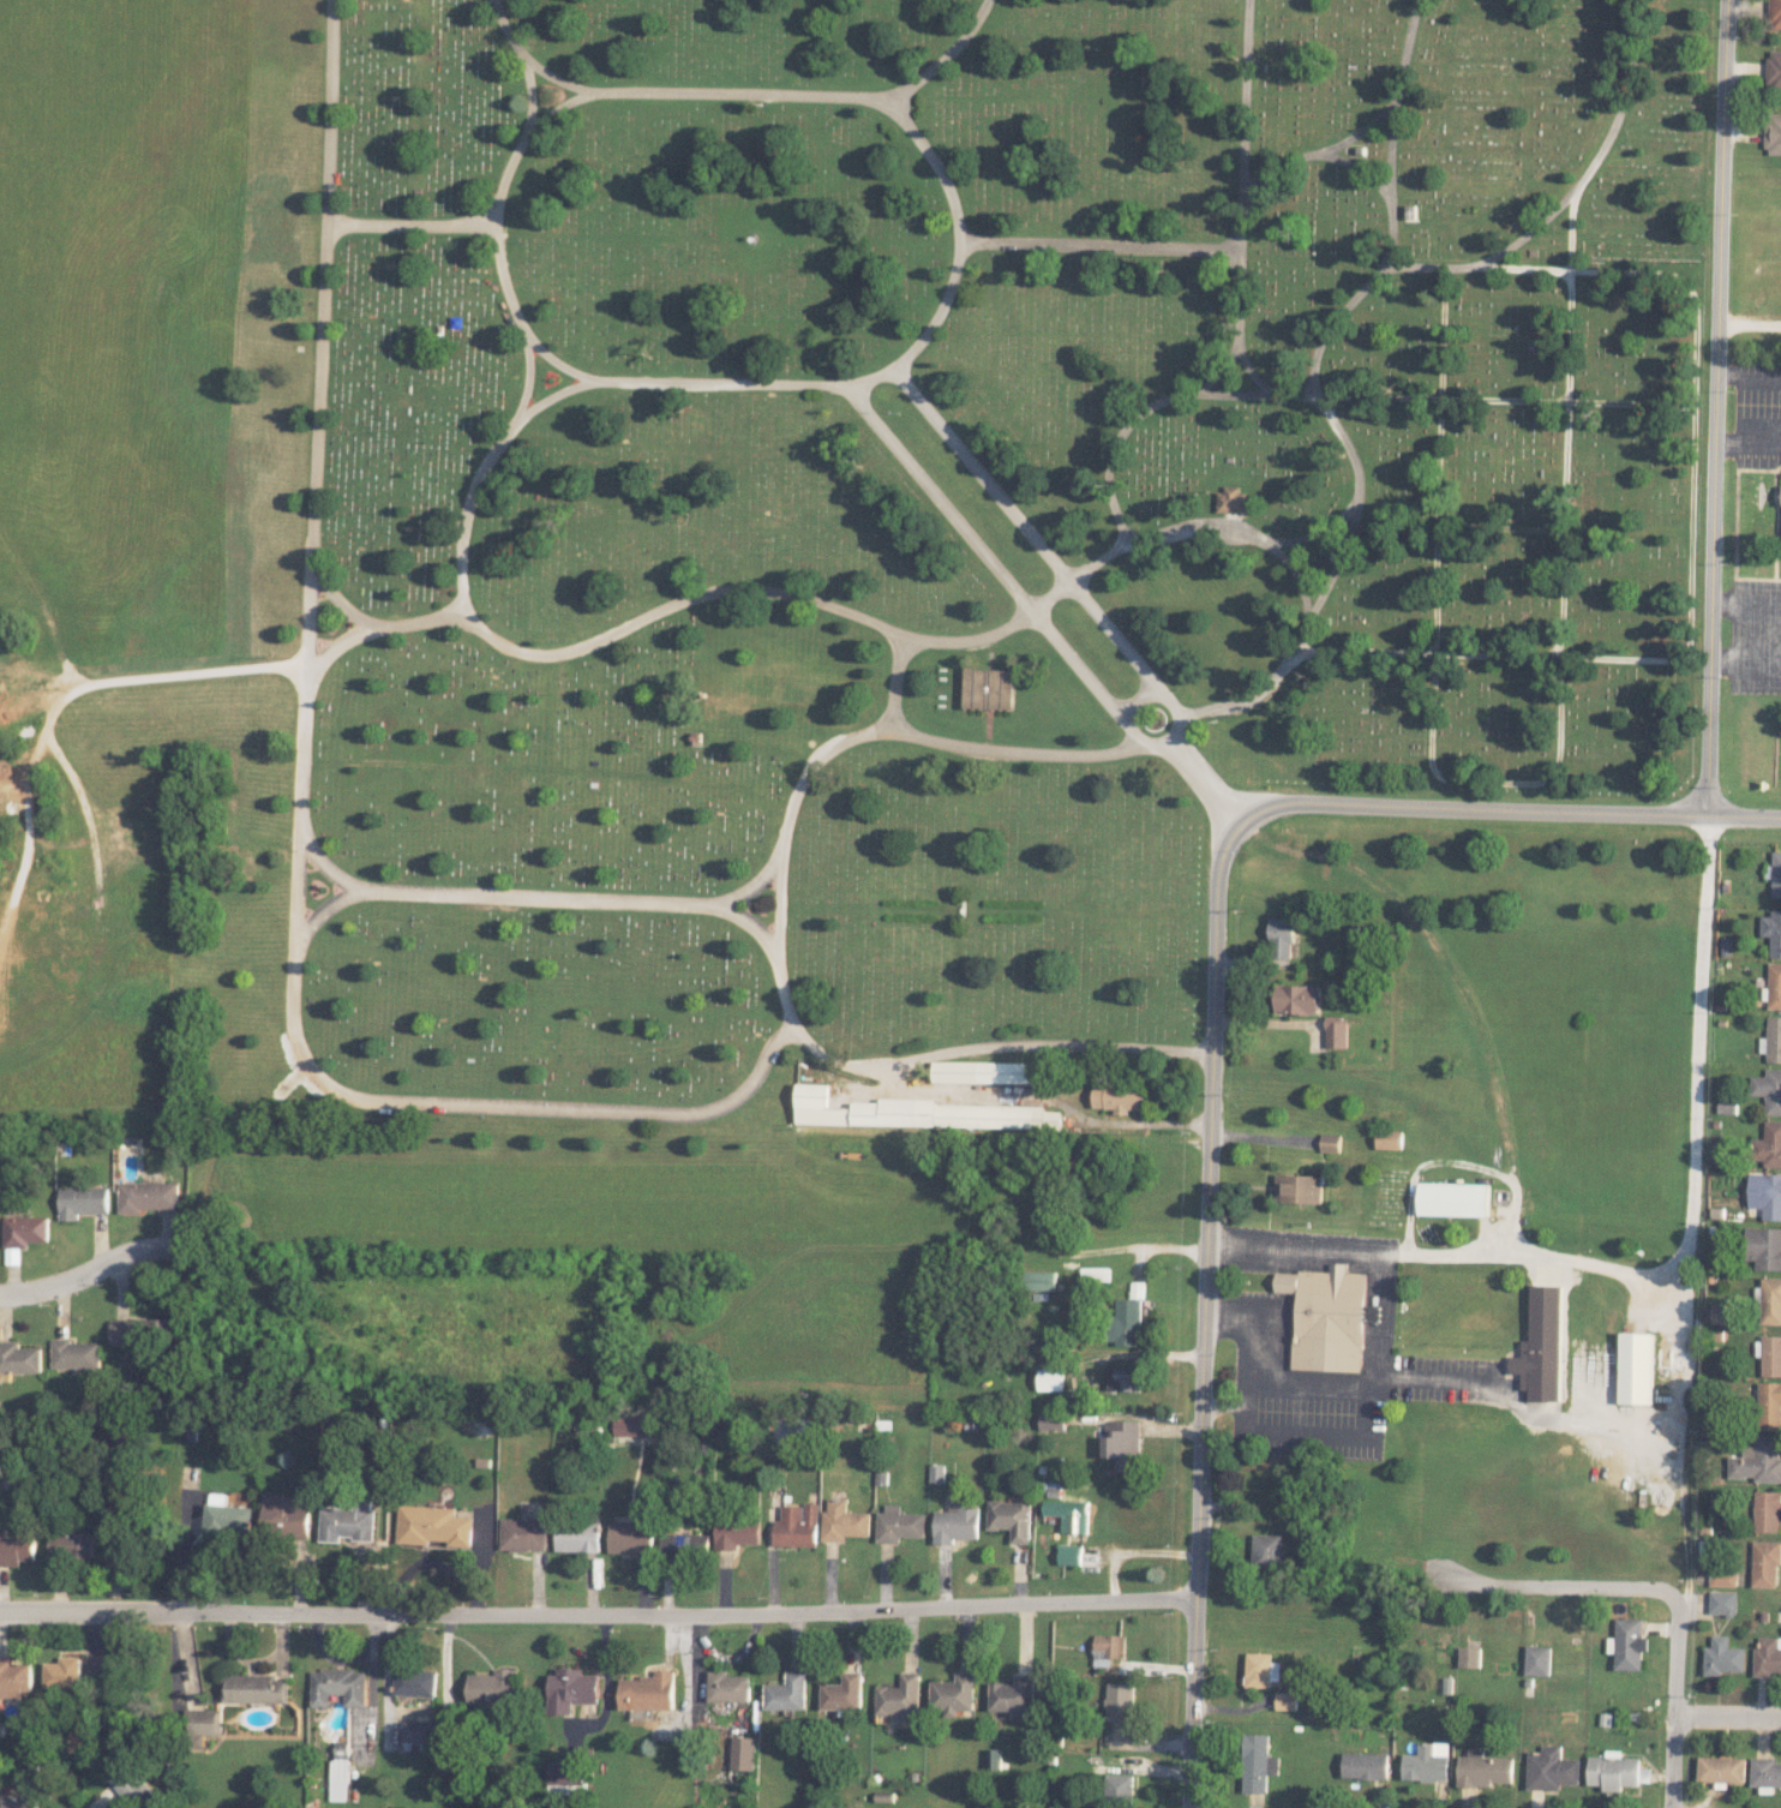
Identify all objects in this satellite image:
building: (1775, 13)
road: (532, 60)
building: (1774, 71)
road: (530, 94)
road: (559, 108)
road: (1393, 131)
building: (1773, 133)
road: (1318, 150)
road: (1361, 169)
road: (941, 172)
road: (409, 223)
road: (1527, 234)
road: (1099, 246)
road: (1341, 317)
road: (320, 331)
road: (871, 377)
road: (526, 378)
road: (1569, 383)
road: (1233, 395)
road: (1716, 406)
road: (1134, 420)
road: (1695, 433)
road: (1440, 459)
building: (1230, 499)
park: (903, 528)
road: (1535, 528)
road: (1317, 531)
road: (1081, 573)
road: (342, 603)
road: (674, 604)
road: (160, 676)
building: (989, 688)
road: (1137, 698)
road: (844, 742)
road: (1165, 742)
road: (1205, 782)
road: (1507, 807)
road: (325, 863)
building: (1775, 874)
road: (754, 882)
road: (534, 897)
building: (1771, 930)
building: (1282, 936)
road: (295, 939)
building: (1774, 986)
building: (1297, 999)
building: (1337, 1031)
building: (1771, 1040)
road: (1053, 1043)
building: (983, 1072)
building: (1768, 1089)
building: (1120, 1098)
building: (1727, 1107)
building: (918, 1112)
building: (1391, 1114)
road: (1185, 1121)
building: (1389, 1138)
building: (1331, 1142)
building: (1769, 1144)
building: (1717, 1154)
building: (1300, 1189)
building: (1765, 1193)
building: (148, 1196)
building: (1453, 1198)
building: (83, 1202)
building: (24, 1231)
building: (1764, 1247)
road: (1667, 1268)
road: (90, 1269)
building: (1096, 1274)
building: (1042, 1280)
building: (1769, 1300)
building: (1722, 1312)
road: (1206, 1313)
building: (1129, 1317)
building: (1329, 1317)
building: (139, 1331)
building: (1542, 1346)
building: (76, 1354)
building: (1771, 1355)
building: (19, 1358)
building: (1636, 1367)
building: (1050, 1378)
building: (1128, 1379)
building: (1769, 1406)
building: (1053, 1420)
building: (629, 1425)
building: (590, 1427)
building: (1123, 1443)
building: (1758, 1459)
building: (936, 1472)
building: (1767, 1510)
building: (1071, 1514)
building: (289, 1515)
building: (1011, 1519)
building: (230, 1520)
building: (842, 1521)
building: (348, 1523)
building: (957, 1523)
building: (898, 1525)
building: (434, 1526)
building: (797, 1526)
building: (734, 1532)
building: (522, 1534)
building: (576, 1535)
building: (630, 1539)
building: (684, 1545)
building: (74, 1547)
building: (18, 1549)
building: (1269, 1550)
building: (1071, 1553)
building: (1765, 1562)
building: (1722, 1577)
road: (1548, 1585)
building: (1722, 1603)
road: (598, 1612)
building: (1629, 1644)
building: (1470, 1657)
building: (1722, 1657)
building: (1765, 1657)
building: (1537, 1659)
building: (1264, 1669)
building: (65, 1674)
building: (16, 1678)
building: (413, 1683)
road: (605, 1683)
building: (491, 1687)
building: (728, 1687)
building: (257, 1688)
building: (570, 1690)
building: (648, 1692)
building: (787, 1693)
building: (844, 1693)
building: (1014, 1694)
building: (954, 1695)
building: (900, 1696)
road: (1674, 1699)
building: (1288, 1700)
building: (1121, 1701)
road: (1727, 1714)
building: (203, 1722)
building: (346, 1722)
building: (415, 1731)
building: (743, 1753)
building: (1258, 1762)
building: (1427, 1762)
building: (1366, 1765)
building: (1483, 1768)
building: (1551, 1768)
building: (1721, 1768)
building: (563, 1772)
building: (1613, 1772)
building: (1765, 1774)
building: (130, 1786)
building: (1120, 1788)
building: (18, 1800)

